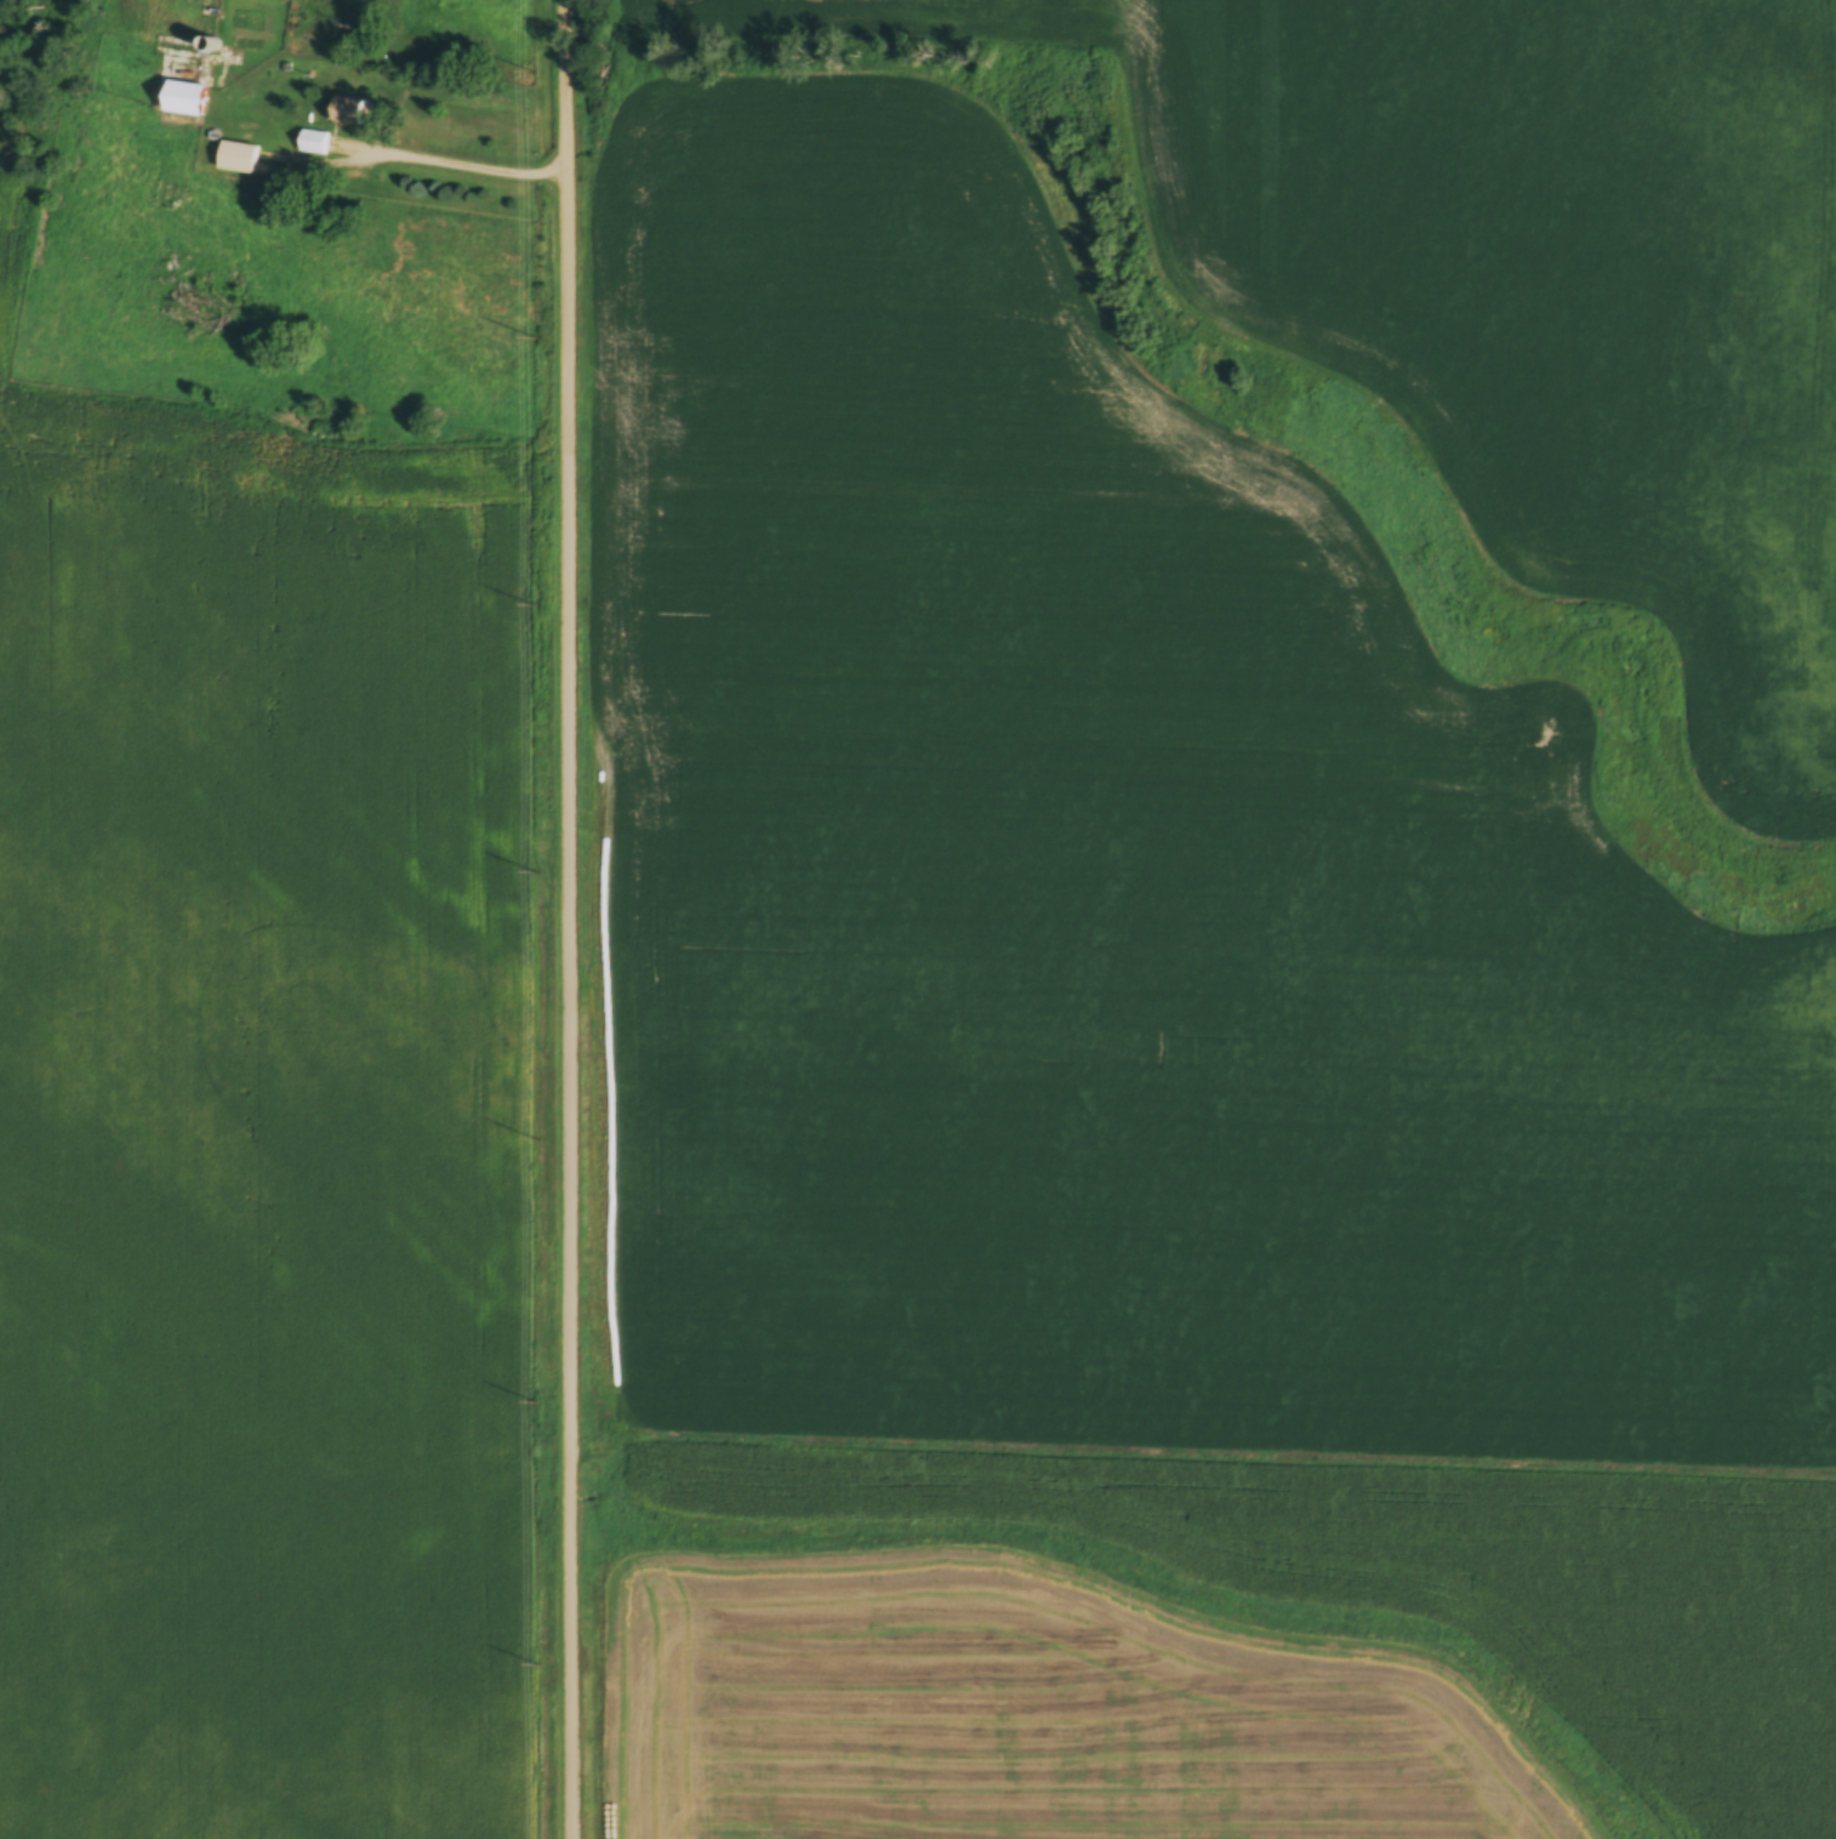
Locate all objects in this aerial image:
building: (344, 113)
building: (312, 143)
road: (462, 155)
road: (575, 918)

